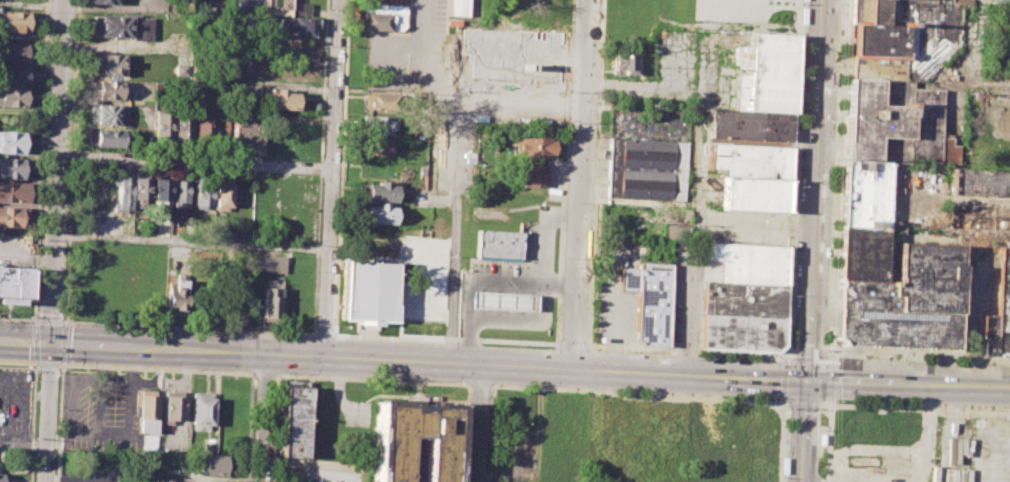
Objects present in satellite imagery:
building: (99, 1)
building: (997, 1)
parking lot: (230, 6)
building: (277, 7)
building: (457, 8)
building: (300, 9)
road: (715, 12)
parking lot: (726, 12)
building: (380, 17)
road: (799, 17)
building: (13, 21)
building: (123, 26)
building: (296, 26)
street lamp: (571, 33)
building: (900, 37)
street lamp: (327, 45)
building: (14, 52)
building: (627, 64)
building: (110, 65)
road: (469, 73)
road: (73, 74)
building: (764, 74)
building: (14, 75)
road: (323, 80)
parking lot: (467, 82)
building: (108, 90)
building: (635, 92)
building: (13, 96)
building: (281, 101)
road: (523, 101)
building: (377, 102)
building: (106, 114)
building: (1002, 119)
street lamp: (567, 121)
building: (161, 125)
building: (377, 125)
building: (749, 125)
building: (182, 126)
building: (203, 127)
building: (221, 129)
road: (458, 132)
building: (246, 133)
building: (106, 137)
building: (885, 141)
building: (13, 142)
building: (375, 146)
building: (535, 146)
power tower: (835, 155)
road: (71, 156)
street lamp: (322, 157)
street lamp: (290, 158)
road: (39, 159)
building: (749, 161)
road: (194, 163)
road: (319, 166)
road: (340, 167)
building: (644, 167)
building: (13, 168)
road: (564, 172)
road: (595, 173)
building: (533, 176)
road: (330, 178)
road: (839, 179)
road: (792, 180)
building: (978, 182)
road: (583, 185)
building: (141, 188)
road: (818, 190)
building: (380, 191)
building: (13, 192)
building: (122, 193)
building: (160, 193)
building: (180, 193)
building: (754, 193)
building: (203, 195)
building: (223, 196)
street lamp: (564, 201)
building: (379, 214)
building: (977, 215)
building: (12, 217)
building: (677, 231)
road: (53, 240)
road: (191, 241)
building: (497, 242)
road: (67, 243)
street lamp: (319, 244)
building: (861, 251)
road: (316, 253)
street lamp: (562, 257)
building: (749, 261)
building: (266, 263)
road: (452, 277)
road: (478, 278)
building: (14, 284)
parking lot: (510, 286)
road: (540, 288)
building: (365, 289)
building: (177, 295)
parking lot: (686, 295)
building: (500, 299)
building: (271, 300)
building: (904, 301)
building: (650, 302)
parking lot: (614, 310)
building: (998, 312)
road: (689, 315)
building: (742, 316)
street lamp: (30, 318)
road: (17, 319)
road: (49, 320)
street lamp: (74, 324)
street lamp: (316, 324)
road: (188, 328)
street lamp: (198, 330)
road: (323, 334)
street lamp: (283, 335)
road: (446, 339)
street lamp: (420, 341)
street lamp: (559, 342)
traffic signals: (50, 344)
road: (574, 344)
street lamp: (522, 345)
street lamp: (825, 349)
road: (686, 350)
street lamp: (627, 351)
road: (809, 352)
road: (832, 354)
road: (921, 355)
road: (785, 356)
street lamp: (867, 356)
street lamp: (780, 358)
road: (405, 361)
road: (18, 362)
road: (48, 363)
street lamp: (985, 363)
street lamp: (33, 367)
street lamp: (64, 367)
road: (156, 368)
street lamp: (197, 368)
road: (263, 373)
street lamp: (282, 373)
road: (831, 377)
road: (371, 379)
street lamp: (424, 380)
road: (784, 380)
street lamp: (38, 381)
traffic signals: (810, 382)
road: (479, 384)
street lamp: (522, 385)
road: (909, 386)
street lamp: (626, 390)
road: (637, 392)
street lamp: (492, 394)
street lamp: (832, 401)
road: (786, 405)
road: (803, 405)
building: (172, 406)
street lamp: (984, 406)
street lamp: (787, 408)
road: (914, 408)
parking lot: (103, 409)
building: (201, 411)
building: (146, 412)
road: (263, 418)
road: (32, 422)
building: (294, 422)
road: (59, 423)
road: (479, 423)
road: (251, 427)
road: (274, 428)
road: (808, 431)
road: (466, 433)
road: (492, 433)
road: (925, 434)
road: (828, 439)
building: (412, 440)
road: (781, 440)
building: (749, 441)
building: (148, 443)
parking lot: (973, 450)
parking lot: (879, 463)
building: (214, 465)
street lamp: (487, 474)
road: (310, 475)
building: (2, 477)
building: (161, 480)

